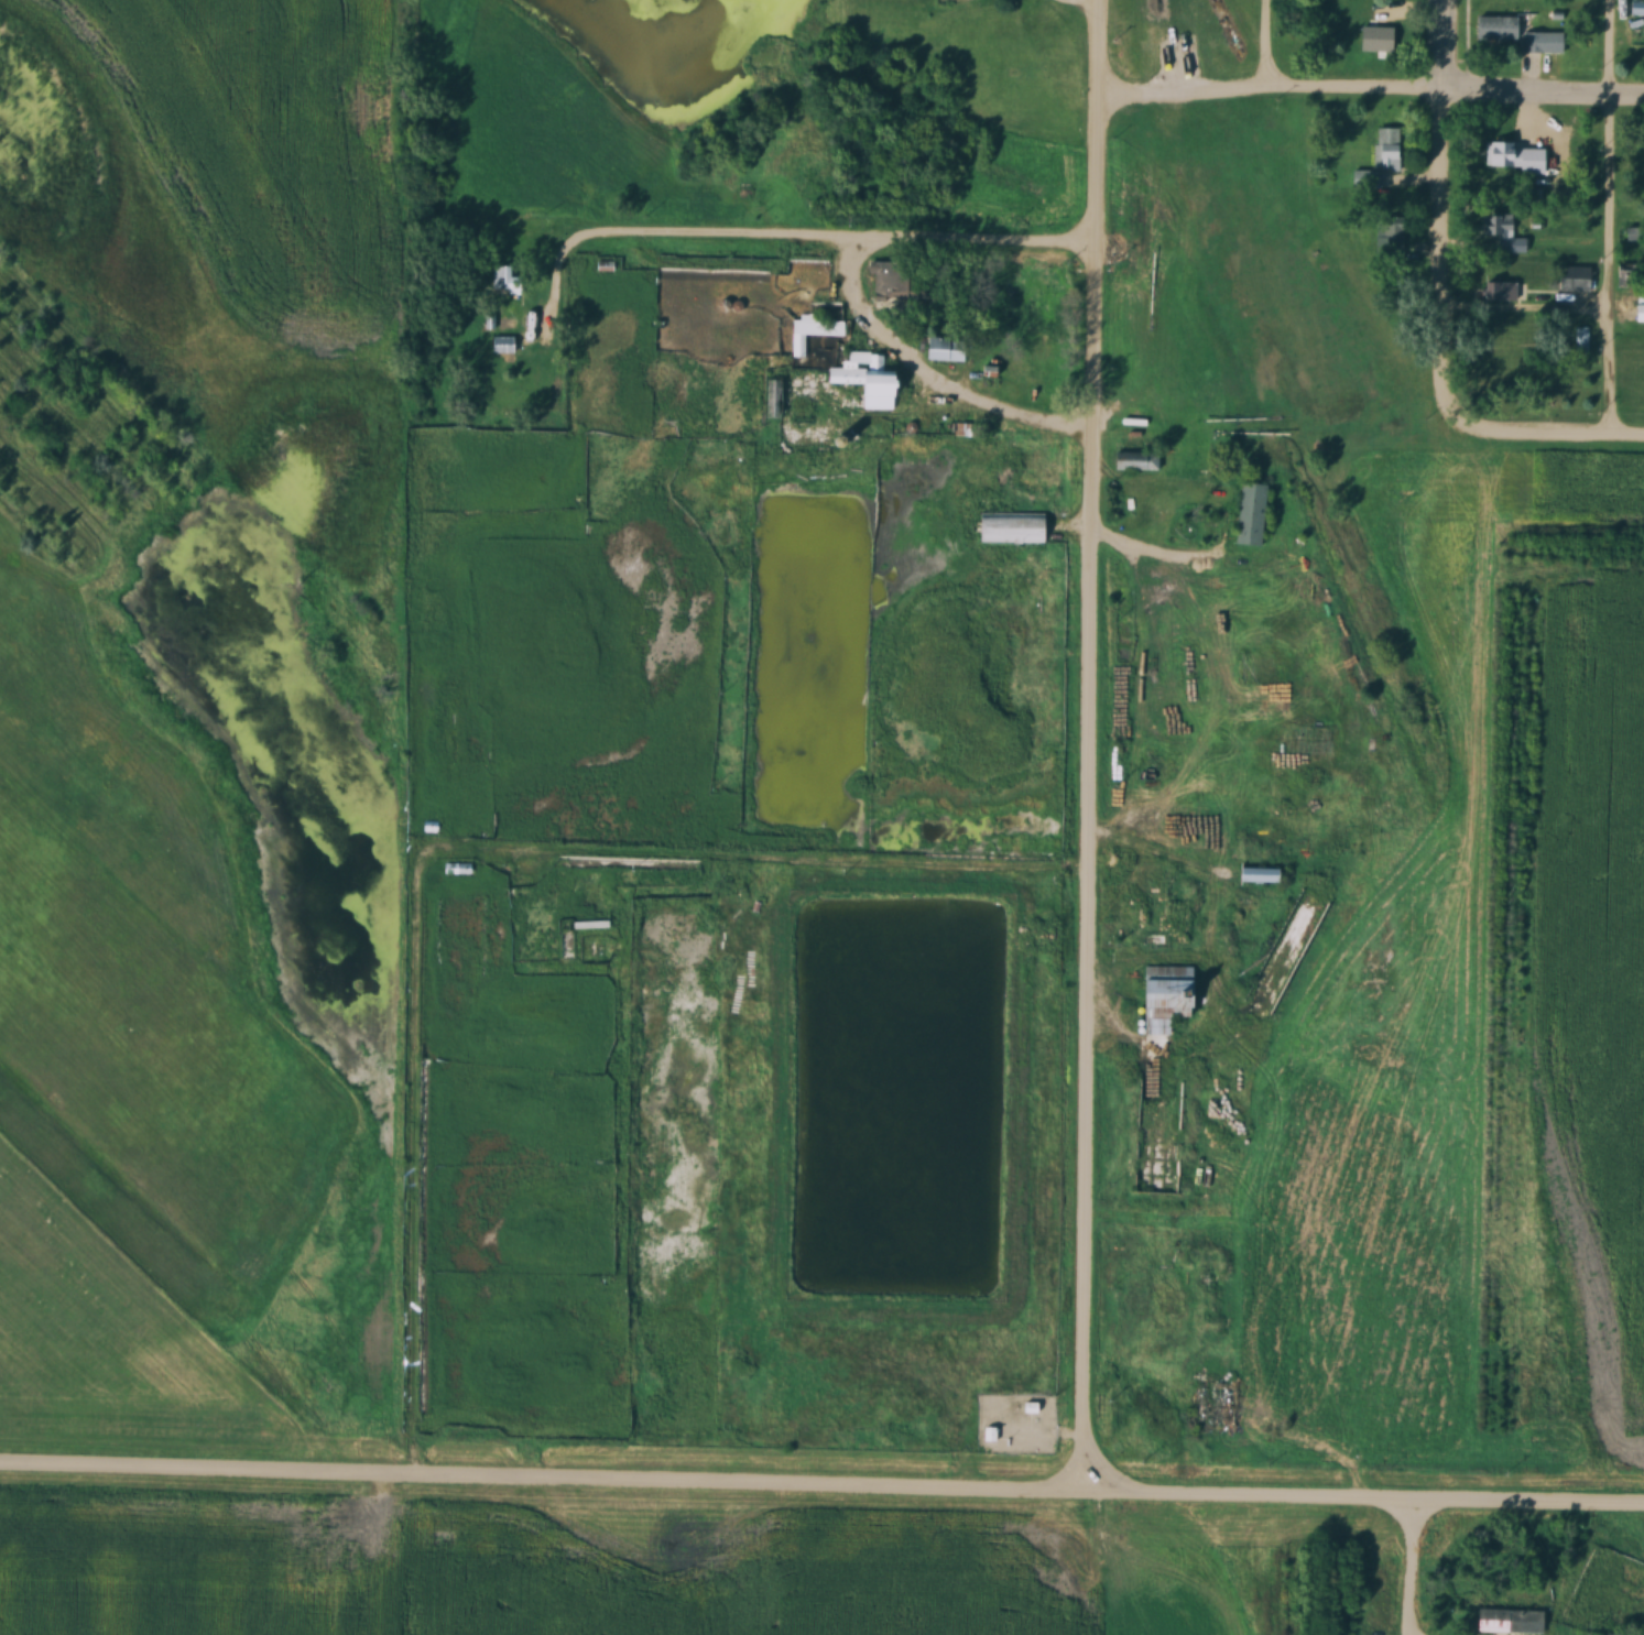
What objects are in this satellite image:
building: (1499, 29)
building: (1544, 43)
road: (1263, 45)
road: (1370, 88)
building: (1389, 149)
building: (1503, 155)
building: (810, 168)
building: (1363, 178)
road: (1440, 214)
road: (1605, 216)
building: (1499, 230)
building: (1635, 235)
road: (832, 237)
building: (1390, 241)
building: (504, 277)
building: (1575, 280)
building: (904, 290)
building: (1502, 292)
building: (815, 330)
building: (505, 345)
building: (947, 349)
building: (872, 380)
road: (1543, 432)
building: (1137, 461)
building: (1253, 513)
building: (1028, 528)
road: (1222, 539)
airport: (205, 646)
road: (1092, 743)
road: (814, 869)
building: (1262, 875)
building: (592, 925)
building: (1169, 998)
airport runway: (107, 1003)
building: (1031, 1408)
building: (989, 1435)
road: (821, 1475)
building: (1512, 1621)

